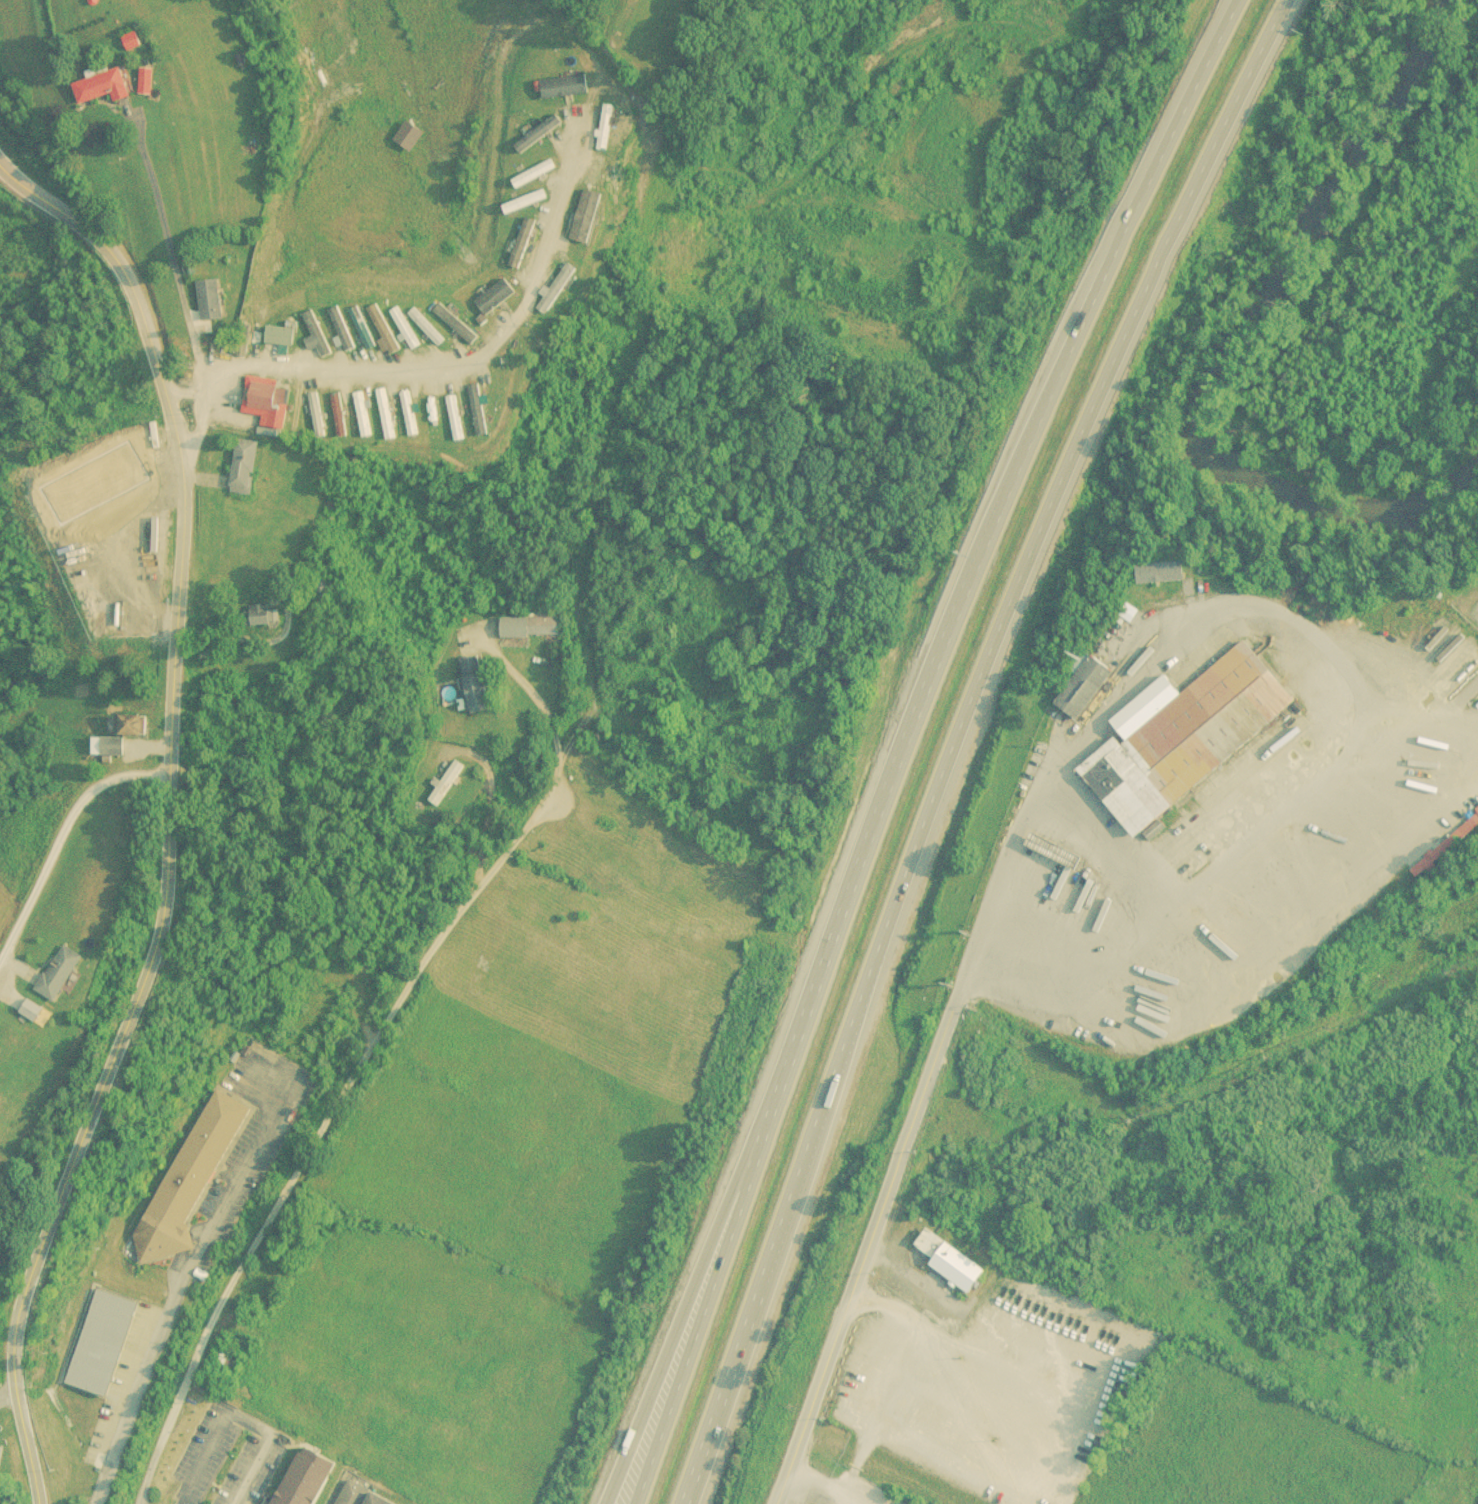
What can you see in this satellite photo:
building: (132, 40)
building: (563, 86)
building: (102, 87)
building: (604, 127)
building: (537, 133)
building: (408, 135)
building: (533, 173)
building: (586, 216)
building: (522, 242)
road: (171, 254)
building: (558, 287)
building: (495, 297)
building: (210, 300)
building: (455, 324)
building: (425, 327)
building: (341, 328)
building: (362, 328)
building: (404, 328)
building: (383, 329)
building: (280, 333)
building: (315, 335)
river: (1219, 339)
road: (430, 369)
building: (268, 395)
building: (432, 410)
building: (478, 411)
building: (409, 413)
building: (362, 414)
building: (385, 414)
building: (316, 415)
building: (339, 415)
building: (455, 418)
building: (244, 467)
building: (127, 504)
building: (54, 508)
building: (1159, 572)
building: (262, 614)
building: (544, 624)
building: (475, 682)
building: (1083, 683)
building: (130, 723)
road: (950, 738)
road: (901, 739)
building: (1195, 741)
building: (107, 745)
building: (445, 781)
road: (166, 812)
road: (59, 834)
building: (1446, 845)
road: (969, 971)
building: (58, 972)
road: (321, 1134)
building: (190, 1178)
road: (700, 1256)
building: (951, 1261)
road: (173, 1299)
building: (101, 1342)
building: (934, 1366)
building: (902, 1403)
road: (235, 1421)
parking lot: (225, 1457)
building: (305, 1478)
building: (359, 1495)

